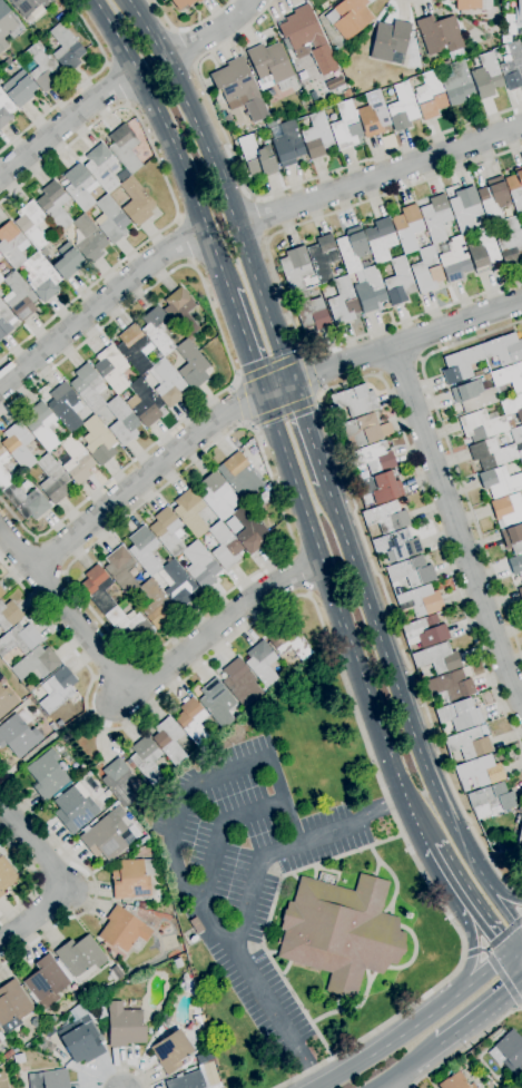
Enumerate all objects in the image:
road: (404, 2)
building: (183, 3)
building: (472, 4)
building: (28, 6)
building: (38, 12)
building: (348, 18)
building: (518, 18)
building: (6, 24)
road: (188, 29)
building: (302, 30)
road: (214, 31)
building: (441, 37)
building: (505, 39)
building: (390, 42)
building: (66, 49)
building: (269, 66)
building: (512, 66)
building: (40, 67)
building: (486, 77)
road: (117, 84)
building: (456, 84)
road: (81, 86)
building: (19, 89)
building: (238, 89)
building: (430, 96)
building: (402, 108)
building: (4, 110)
building: (373, 115)
road: (67, 122)
building: (272, 124)
building: (345, 127)
building: (316, 136)
road: (167, 141)
building: (287, 145)
building: (125, 149)
building: (149, 155)
building: (256, 156)
building: (101, 167)
building: (122, 176)
road: (381, 176)
road: (223, 185)
building: (79, 187)
building: (515, 189)
road: (170, 190)
road: (272, 194)
building: (493, 199)
building: (136, 202)
building: (53, 205)
building: (465, 208)
road: (259, 218)
building: (435, 218)
building: (110, 220)
building: (31, 225)
building: (407, 227)
building: (89, 239)
building: (380, 239)
road: (184, 242)
building: (511, 242)
building: (12, 245)
building: (352, 248)
building: (483, 251)
building: (43, 253)
building: (323, 257)
building: (454, 259)
building: (67, 261)
building: (295, 268)
building: (426, 271)
road: (275, 276)
building: (41, 277)
building: (1, 278)
building: (398, 282)
building: (368, 290)
building: (19, 297)
building: (342, 301)
road: (99, 303)
building: (180, 311)
building: (311, 312)
building: (4, 322)
building: (157, 330)
road: (245, 341)
building: (135, 349)
building: (503, 350)
road: (226, 352)
building: (191, 364)
road: (398, 364)
building: (461, 364)
building: (110, 369)
road: (311, 373)
building: (509, 376)
building: (168, 384)
building: (87, 388)
building: (473, 395)
road: (256, 396)
building: (354, 401)
building: (144, 402)
road: (240, 403)
building: (65, 406)
building: (512, 406)
road: (321, 420)
building: (121, 421)
building: (510, 423)
building: (40, 425)
building: (481, 425)
building: (361, 431)
road: (308, 433)
building: (516, 434)
building: (98, 441)
building: (18, 445)
building: (492, 453)
building: (2, 457)
road: (452, 457)
building: (75, 460)
building: (521, 460)
building: (370, 461)
building: (239, 476)
building: (3, 479)
building: (52, 480)
building: (499, 482)
building: (380, 488)
building: (217, 496)
building: (26, 502)
building: (508, 509)
building: (190, 512)
building: (386, 518)
road: (286, 519)
building: (233, 525)
road: (455, 526)
building: (249, 530)
building: (167, 531)
building: (512, 539)
building: (397, 545)
building: (224, 546)
building: (144, 550)
road: (50, 555)
building: (200, 565)
building: (516, 566)
building: (121, 570)
building: (412, 572)
road: (301, 574)
building: (177, 585)
building: (97, 589)
building: (1, 592)
building: (520, 592)
building: (420, 601)
building: (155, 605)
road: (67, 611)
building: (9, 615)
road: (343, 620)
building: (128, 623)
road: (215, 628)
building: (424, 631)
building: (19, 639)
building: (289, 643)
building: (437, 658)
building: (36, 664)
building: (263, 664)
road: (341, 672)
building: (240, 683)
building: (451, 686)
building: (29, 687)
building: (57, 689)
building: (7, 700)
building: (217, 703)
road: (408, 715)
building: (459, 715)
building: (194, 722)
building: (53, 727)
building: (18, 735)
building: (169, 741)
road: (45, 743)
building: (469, 744)
building: (146, 759)
building: (480, 772)
building: (47, 774)
building: (118, 782)
road: (188, 793)
building: (491, 801)
building: (75, 808)
road: (220, 833)
building: (106, 835)
building: (519, 841)
road: (289, 846)
road: (442, 864)
building: (6, 875)
road: (92, 878)
road: (32, 879)
road: (63, 879)
building: (132, 879)
road: (494, 885)
building: (141, 905)
road: (479, 919)
building: (196, 925)
building: (122, 930)
building: (341, 932)
road: (505, 933)
road: (470, 937)
road: (486, 948)
road: (484, 950)
road: (514, 950)
road: (463, 952)
road: (472, 952)
building: (80, 955)
traffic signals: (508, 955)
road: (514, 958)
building: (177, 962)
building: (115, 972)
road: (483, 973)
road: (504, 980)
building: (46, 982)
building: (12, 1002)
road: (477, 1010)
road: (277, 1017)
building: (52, 1020)
building: (125, 1026)
building: (81, 1040)
building: (0, 1041)
road: (392, 1042)
road: (465, 1046)
building: (16, 1050)
building: (171, 1051)
building: (509, 1052)
building: (9, 1053)
road: (408, 1067)
road: (121, 1068)
building: (49, 1079)
building: (187, 1081)
building: (455, 1082)
building: (500, 1085)
road: (318, 1087)

